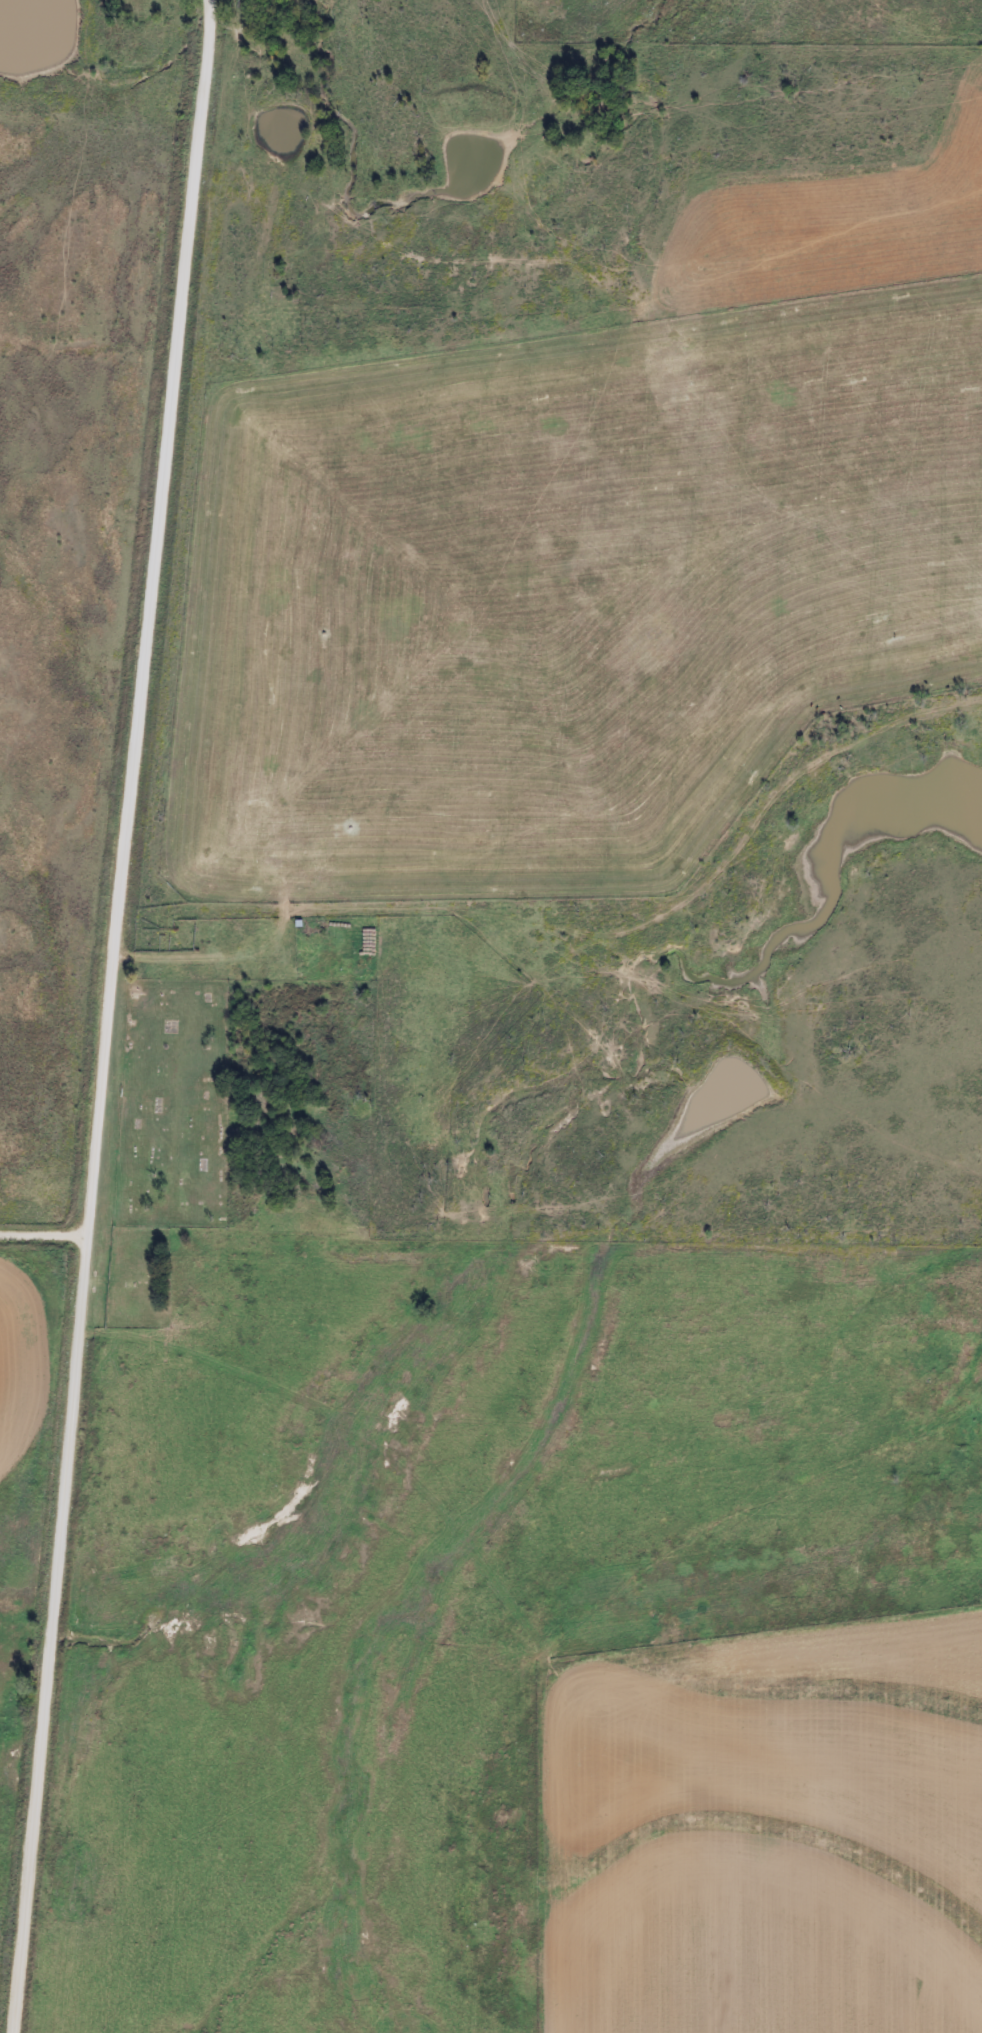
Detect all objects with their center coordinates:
road: (105, 1015)
park: (174, 1107)
road: (42, 1236)

